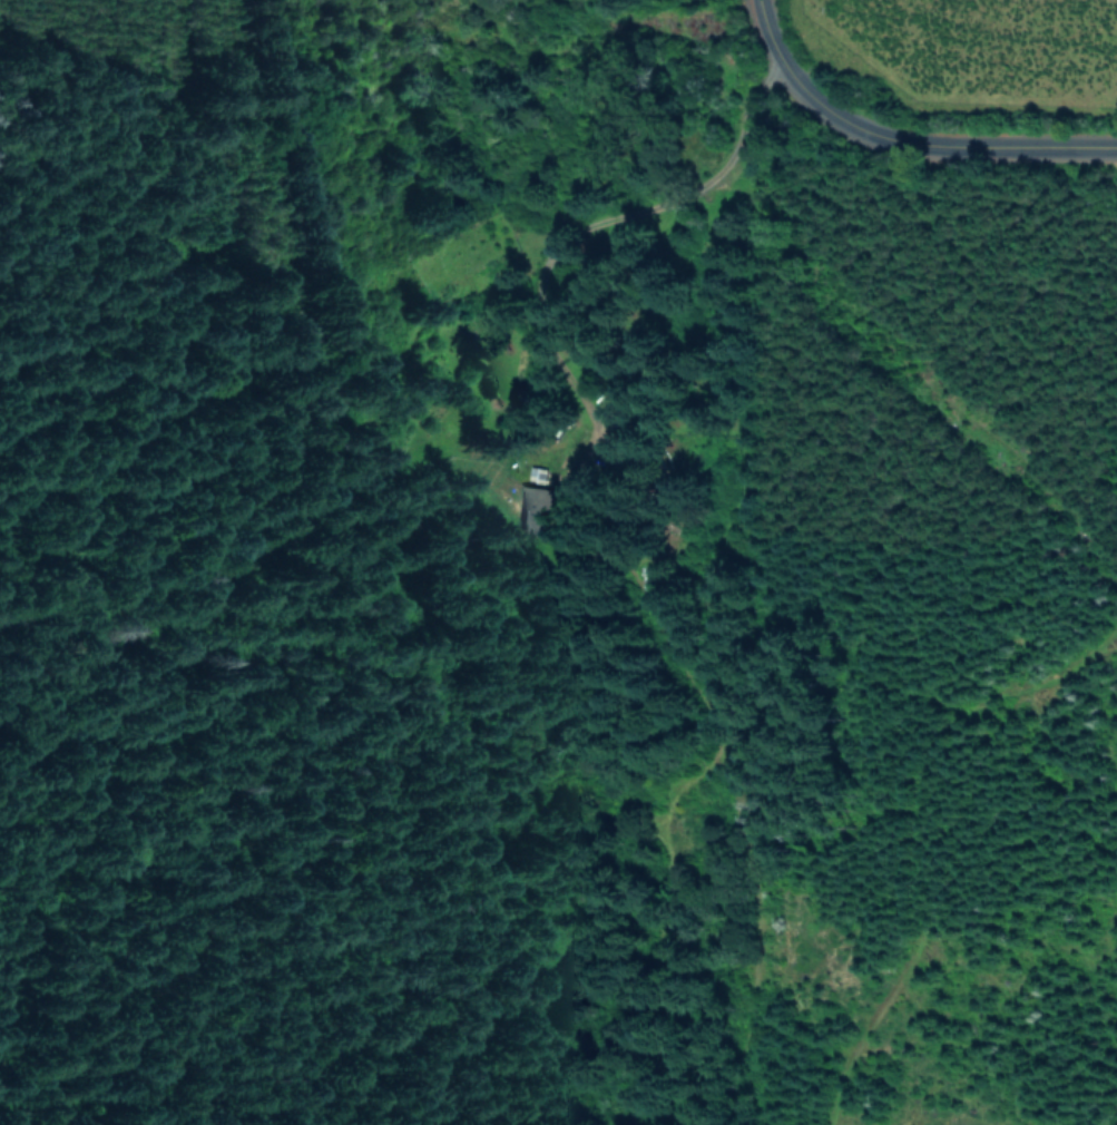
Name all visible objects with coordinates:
road: (902, 135)
road: (601, 221)
building: (536, 507)

